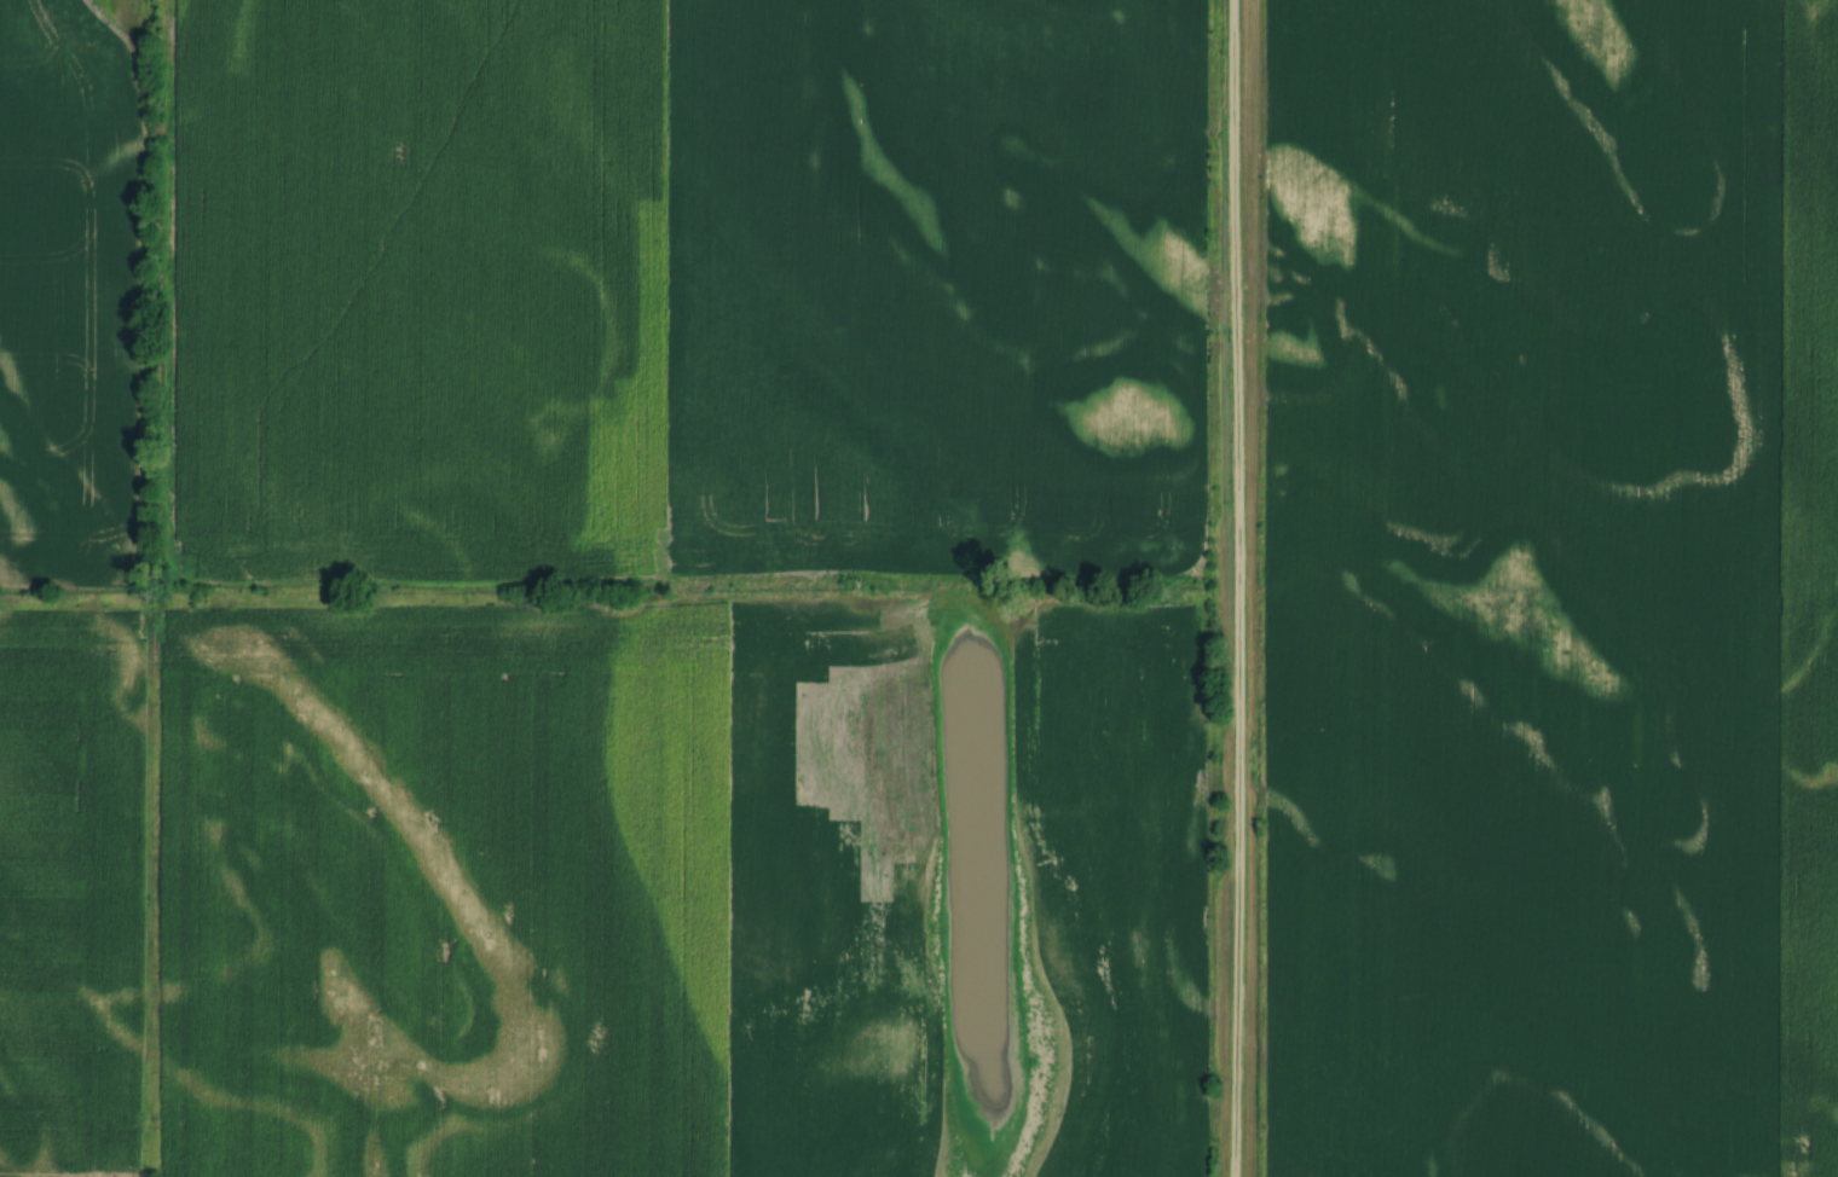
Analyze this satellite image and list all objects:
road: (1235, 587)

